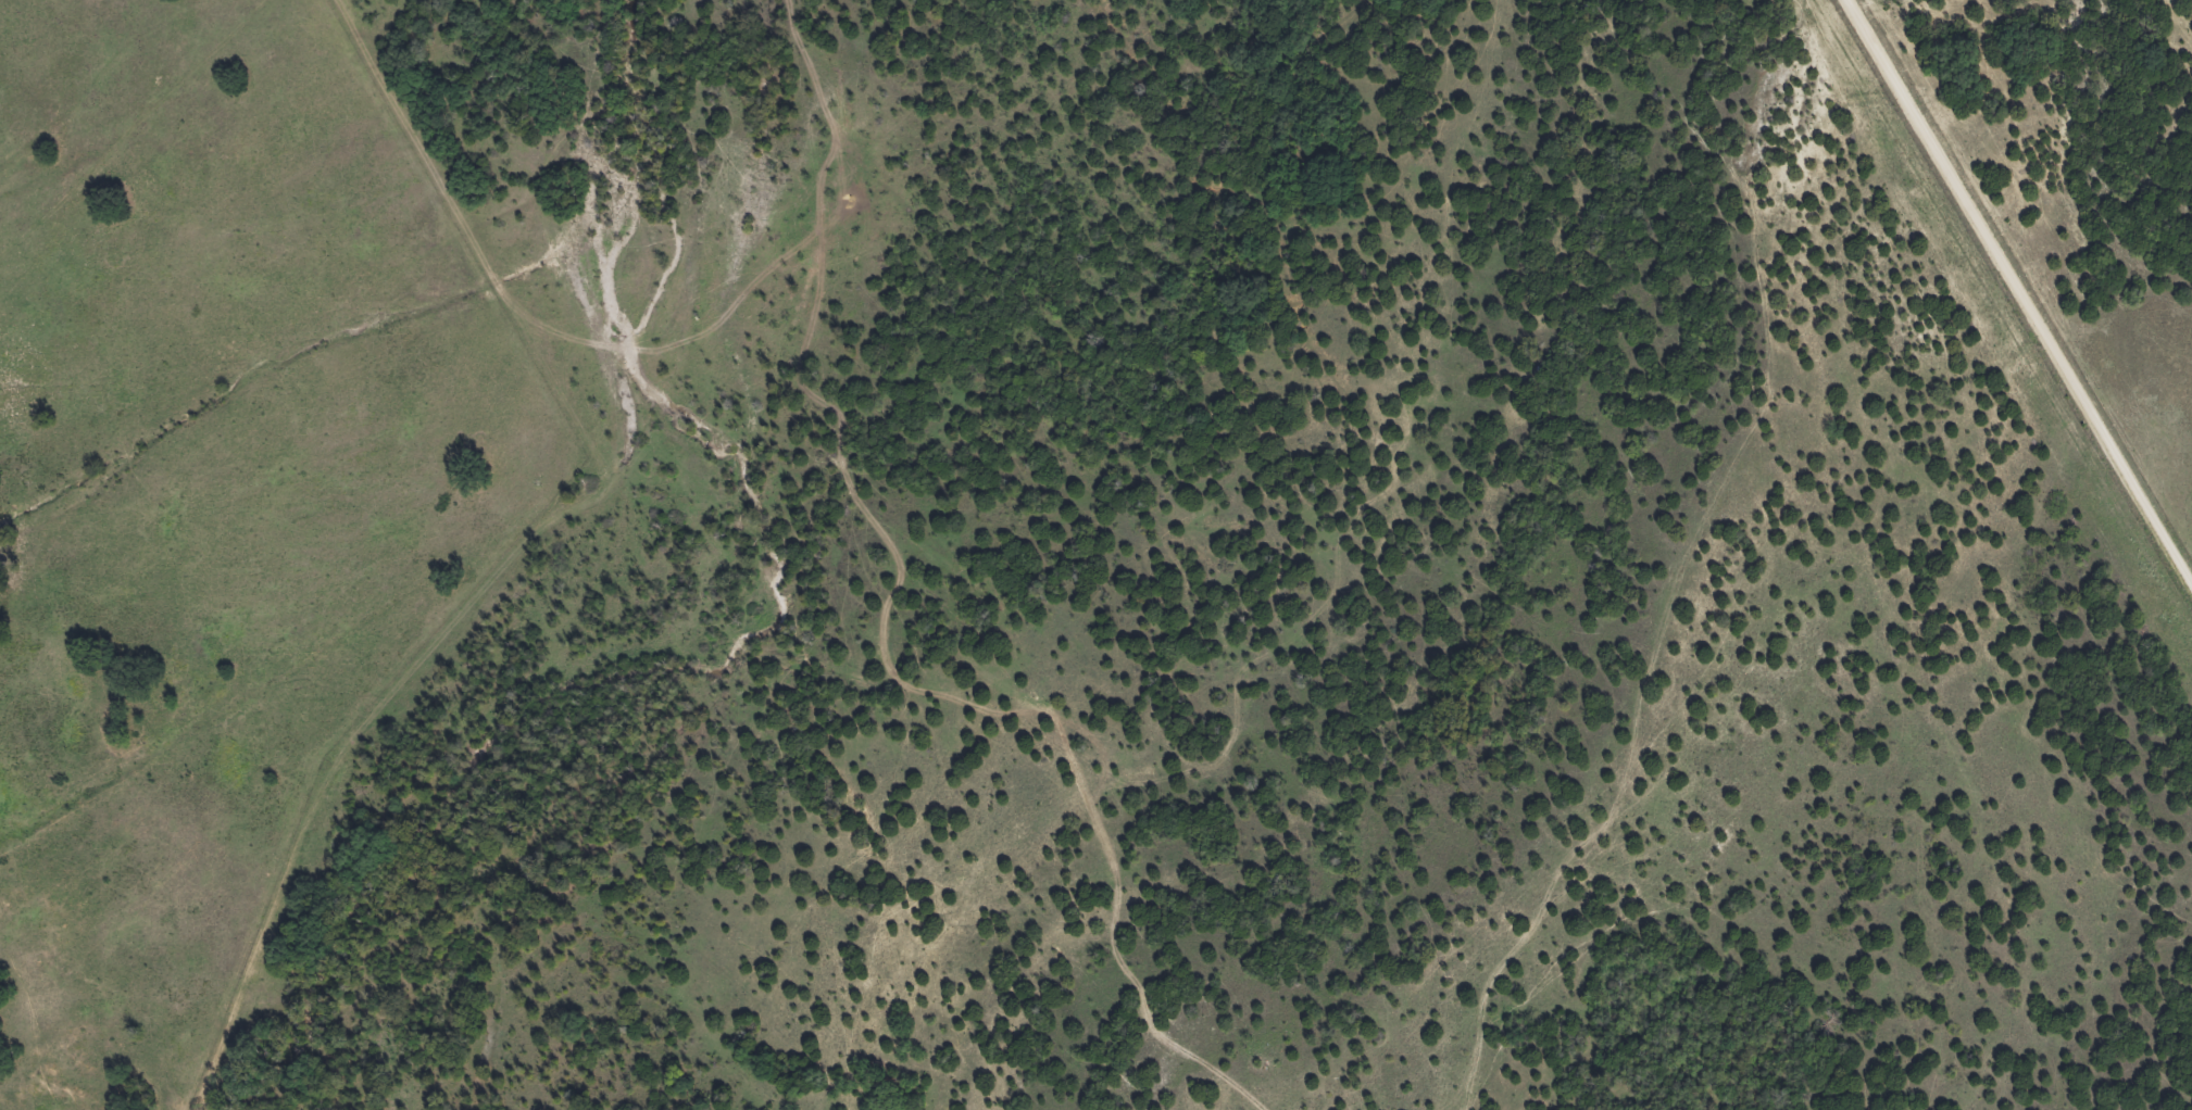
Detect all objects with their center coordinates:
road: (2021, 289)

